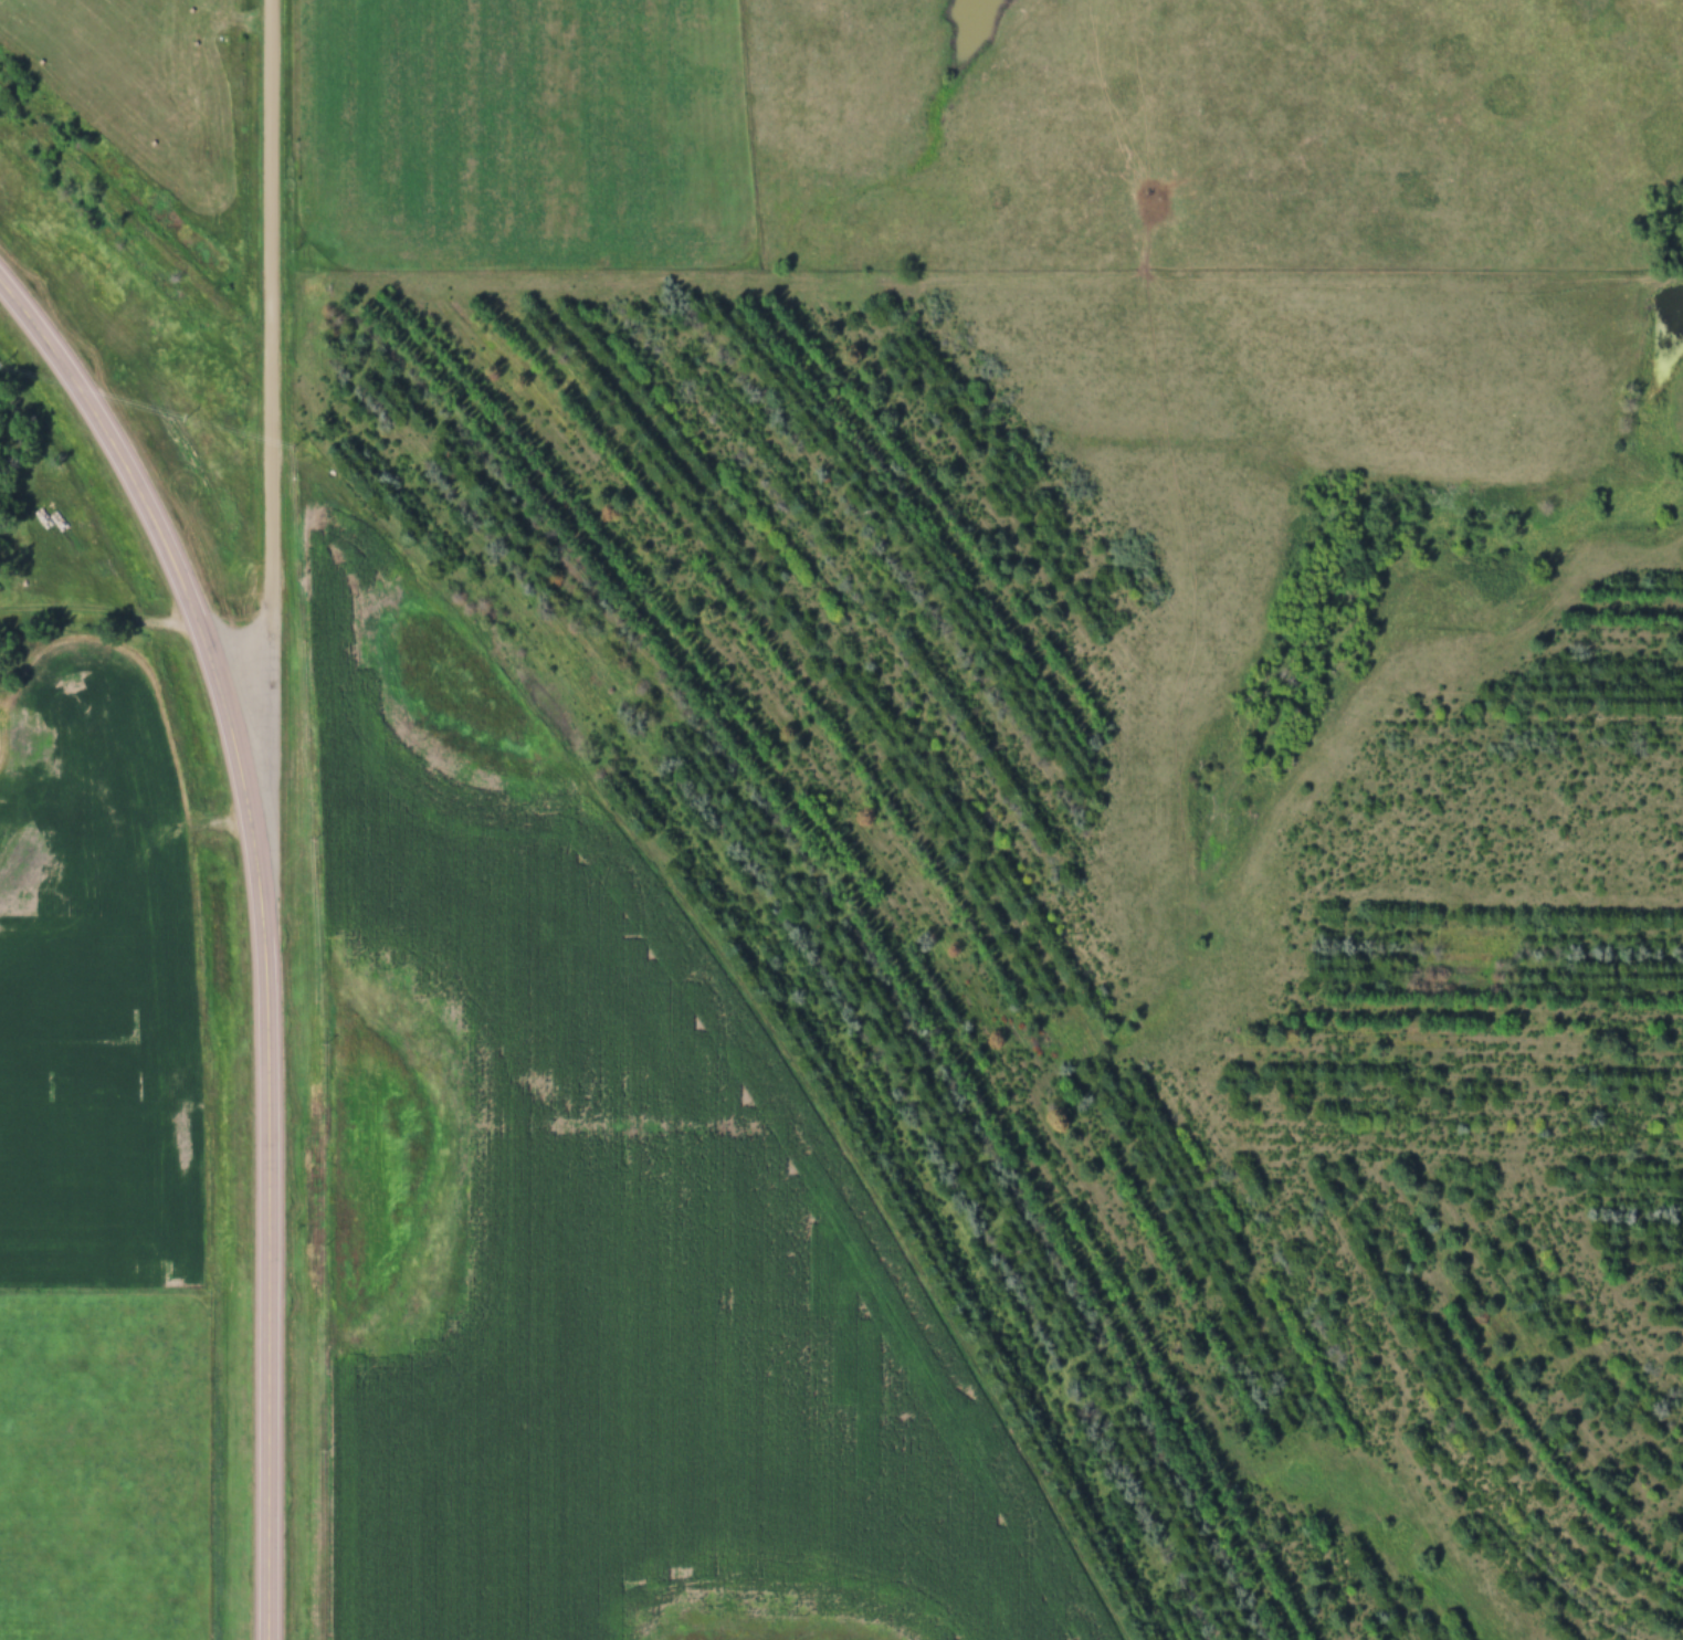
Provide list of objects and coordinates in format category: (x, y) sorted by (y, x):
road: (267, 481)
road: (266, 919)

